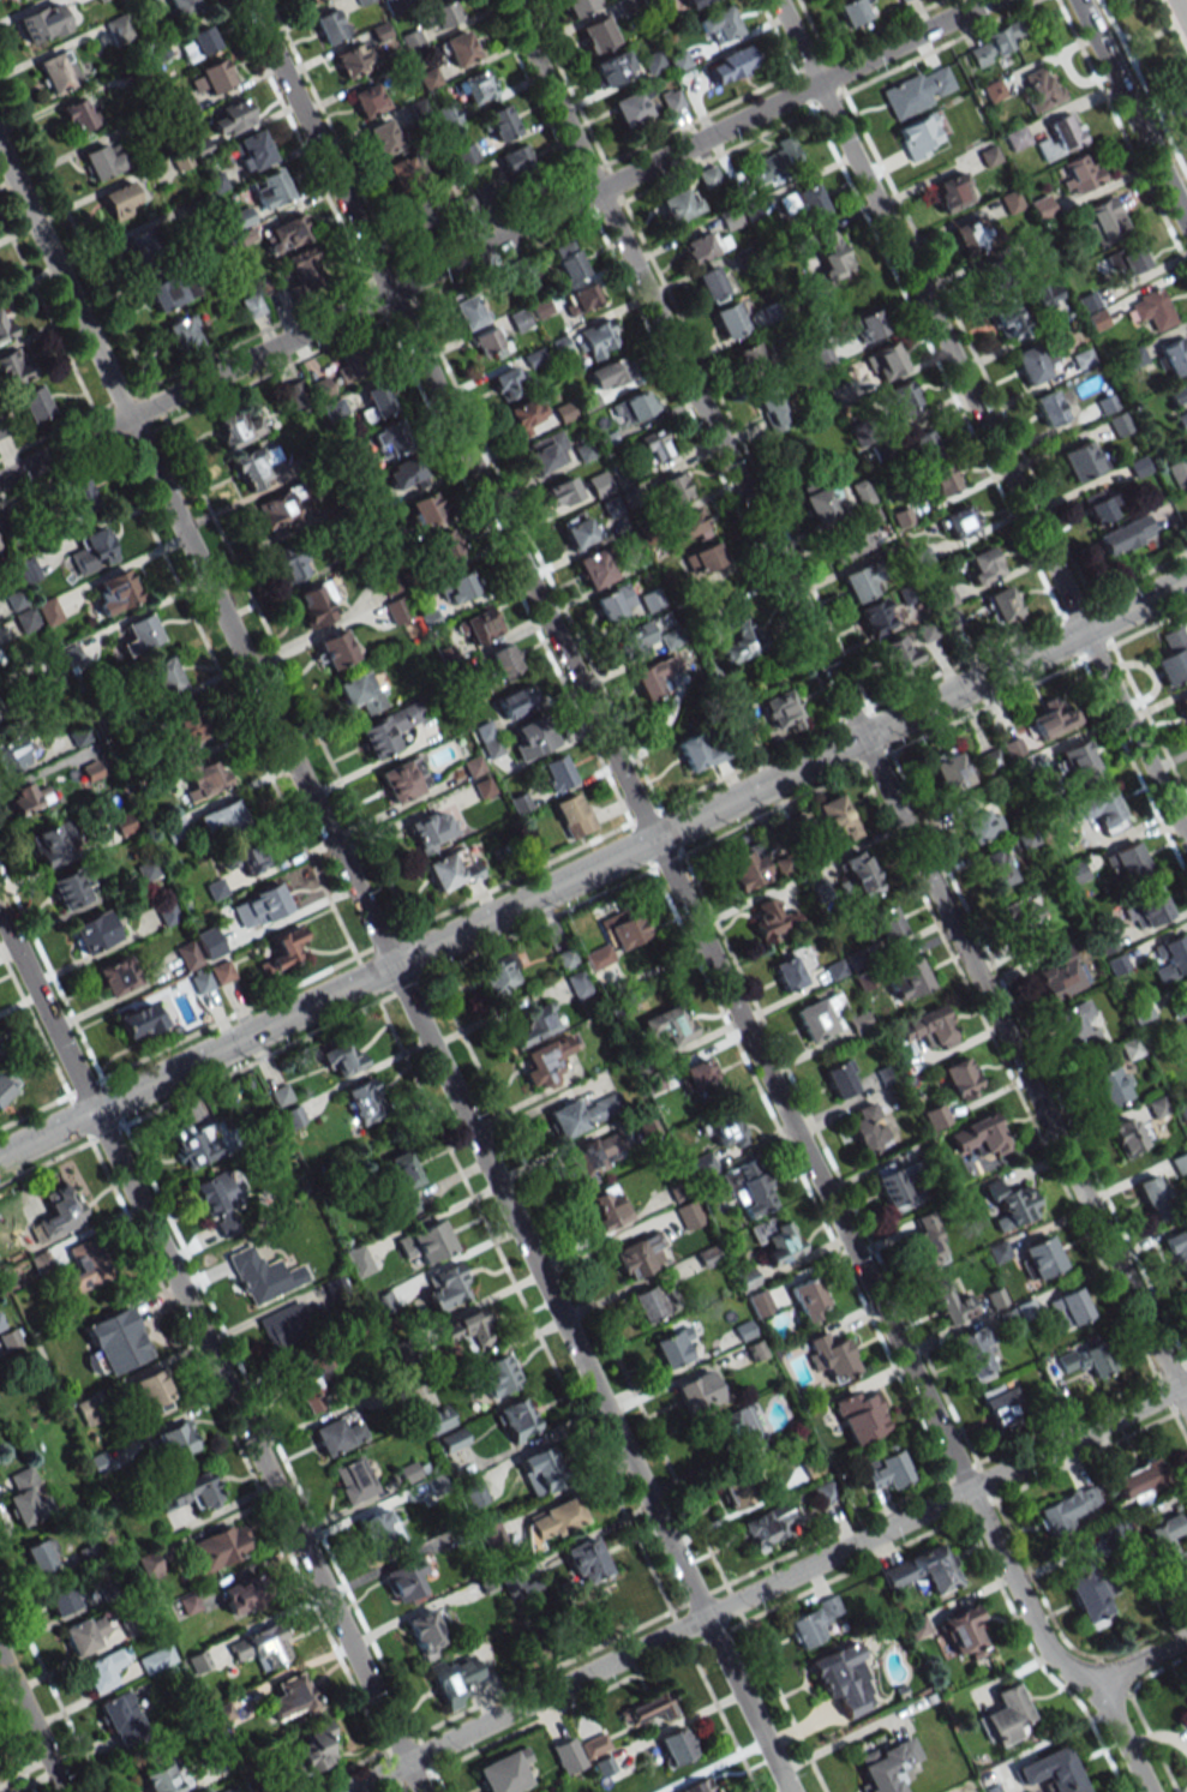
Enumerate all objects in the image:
building: (311, 0)
building: (901, 0)
building: (361, 1)
building: (693, 2)
building: (182, 6)
building: (577, 6)
building: (851, 11)
road: (1181, 12)
road: (1185, 13)
parking lot: (1180, 14)
building: (440, 16)
building: (40, 23)
road: (1174, 24)
building: (330, 25)
building: (718, 25)
building: (118, 28)
building: (598, 32)
building: (197, 43)
building: (993, 43)
building: (458, 48)
building: (352, 60)
building: (652, 62)
building: (730, 64)
building: (611, 68)
building: (56, 71)
building: (210, 78)
building: (475, 86)
building: (1041, 89)
building: (917, 91)
building: (993, 91)
building: (367, 100)
building: (671, 101)
building: (631, 107)
road: (1131, 112)
building: (78, 114)
building: (446, 114)
building: (232, 118)
building: (499, 122)
building: (1060, 136)
building: (382, 137)
building: (921, 138)
building: (1015, 138)
building: (252, 150)
building: (988, 156)
building: (515, 158)
building: (102, 161)
building: (774, 162)
building: (402, 170)
building: (1079, 173)
building: (708, 176)
building: (269, 188)
building: (951, 192)
building: (120, 200)
building: (1009, 200)
building: (678, 204)
building: (801, 204)
building: (420, 210)
building: (1104, 220)
building: (284, 234)
building: (969, 235)
road: (492, 240)
building: (696, 245)
building: (143, 247)
building: (829, 254)
building: (566, 260)
building: (1127, 260)
building: (304, 264)
building: (987, 282)
building: (711, 284)
building: (172, 290)
building: (1048, 295)
building: (581, 298)
building: (1087, 302)
building: (252, 305)
building: (1152, 308)
building: (467, 311)
building: (520, 319)
building: (729, 319)
building: (1008, 322)
building: (868, 325)
building: (4, 328)
building: (184, 332)
building: (595, 340)
building: (488, 343)
building: (1174, 356)
building: (751, 358)
building: (887, 360)
building: (1029, 365)
building: (12, 367)
building: (349, 367)
building: (609, 373)
building: (509, 382)
building: (1177, 394)
building: (903, 400)
building: (374, 402)
building: (31, 404)
building: (633, 407)
building: (771, 407)
building: (1050, 407)
building: (334, 409)
building: (523, 415)
road: (981, 420)
building: (1182, 421)
building: (1117, 424)
building: (238, 428)
building: (388, 439)
building: (654, 445)
building: (924, 445)
building: (546, 453)
building: (1081, 460)
building: (254, 465)
building: (1177, 472)
building: (404, 474)
building: (942, 480)
building: (598, 484)
building: (671, 489)
building: (559, 492)
building: (862, 492)
building: (78, 495)
building: (822, 504)
building: (1099, 505)
building: (425, 509)
building: (274, 513)
building: (901, 516)
building: (959, 521)
building: (685, 527)
building: (580, 531)
building: (1125, 535)
building: (0, 545)
building: (846, 545)
building: (445, 549)
building: (91, 552)
building: (703, 558)
building: (289, 562)
building: (982, 565)
building: (593, 568)
building: (861, 580)
building: (457, 587)
building: (113, 592)
building: (651, 600)
building: (314, 603)
building: (615, 603)
building: (1002, 606)
building: (396, 610)
building: (874, 616)
building: (478, 625)
building: (139, 633)
building: (738, 637)
building: (637, 639)
building: (335, 649)
building: (897, 654)
building: (1174, 657)
building: (503, 660)
building: (161, 676)
building: (654, 677)
building: (361, 691)
building: (515, 701)
road: (845, 703)
building: (1182, 706)
building: (781, 711)
building: (1, 717)
building: (1051, 719)
building: (184, 724)
building: (388, 729)
building: (530, 737)
building: (487, 739)
building: (696, 751)
building: (11, 754)
building: (990, 761)
building: (1078, 762)
building: (951, 772)
building: (554, 773)
building: (200, 775)
building: (402, 779)
building: (28, 798)
building: (520, 803)
building: (1104, 811)
building: (572, 815)
building: (220, 817)
building: (835, 819)
building: (978, 822)
building: (173, 828)
building: (430, 831)
building: (1027, 837)
building: (54, 843)
building: (248, 857)
building: (1125, 862)
road: (593, 868)
building: (745, 868)
building: (995, 868)
building: (451, 869)
building: (1075, 873)
building: (861, 874)
building: (67, 889)
building: (215, 889)
building: (259, 906)
road: (685, 906)
building: (1150, 906)
building: (773, 921)
building: (1026, 921)
building: (891, 927)
building: (623, 930)
building: (94, 931)
building: (209, 945)
building: (282, 949)
building: (187, 954)
building: (1171, 958)
building: (791, 967)
road: (394, 971)
building: (221, 972)
building: (498, 973)
building: (1059, 973)
building: (115, 976)
building: (200, 981)
building: (907, 982)
building: (1179, 1009)
building: (820, 1015)
building: (139, 1021)
building: (667, 1024)
building: (534, 1025)
building: (1078, 1026)
building: (929, 1027)
building: (1131, 1048)
building: (340, 1057)
building: (544, 1061)
building: (697, 1074)
building: (959, 1078)
building: (841, 1079)
building: (6, 1085)
building: (1110, 1085)
building: (364, 1101)
building: (582, 1114)
building: (868, 1127)
building: (726, 1129)
building: (979, 1135)
building: (1127, 1135)
building: (196, 1144)
building: (592, 1156)
building: (1180, 1163)
building: (402, 1180)
building: (891, 1187)
building: (749, 1188)
building: (1153, 1197)
building: (1011, 1203)
building: (221, 1205)
building: (606, 1207)
building: (56, 1213)
building: (688, 1215)
building: (774, 1240)
building: (425, 1242)
building: (927, 1242)
building: (1179, 1249)
building: (639, 1255)
building: (708, 1255)
building: (1042, 1257)
building: (358, 1260)
building: (41, 1263)
building: (84, 1267)
building: (262, 1276)
building: (445, 1287)
building: (808, 1299)
building: (383, 1302)
building: (649, 1302)
building: (759, 1303)
building: (951, 1306)
building: (1068, 1308)
building: (1008, 1318)
building: (283, 1326)
building: (467, 1330)
building: (116, 1341)
building: (672, 1347)
building: (755, 1349)
building: (975, 1353)
road: (210, 1354)
building: (831, 1356)
building: (1086, 1360)
building: (494, 1374)
building: (308, 1383)
building: (697, 1391)
building: (151, 1392)
building: (1000, 1402)
building: (861, 1416)
building: (438, 1419)
building: (515, 1420)
building: (735, 1431)
building: (331, 1437)
building: (451, 1439)
building: (175, 1442)
building: (541, 1466)
building: (886, 1470)
building: (409, 1472)
building: (354, 1480)
building: (1139, 1480)
building: (739, 1487)
building: (193, 1491)
building: (825, 1492)
building: (24, 1498)
building: (1068, 1508)
building: (553, 1520)
building: (767, 1527)
building: (378, 1532)
road: (593, 1534)
building: (218, 1547)
building: (1170, 1548)
building: (41, 1556)
building: (584, 1560)
building: (149, 1565)
building: (919, 1569)
building: (402, 1577)
road: (766, 1587)
building: (238, 1595)
building: (1092, 1595)
building: (59, 1598)
building: (813, 1622)
building: (917, 1628)
building: (961, 1630)
building: (425, 1631)
building: (84, 1632)
building: (263, 1647)
building: (156, 1659)
road: (1140, 1659)
building: (198, 1662)
building: (101, 1671)
building: (843, 1678)
building: (452, 1679)
building: (292, 1698)
building: (647, 1708)
building: (222, 1714)
building: (1005, 1716)
building: (121, 1719)
building: (1185, 1725)
road: (30, 1727)
building: (675, 1746)
building: (313, 1748)
building: (566, 1755)
building: (888, 1766)
building: (1051, 1770)
building: (504, 1772)
building: (162, 1776)
building: (229, 1790)
road: (783, 1790)

